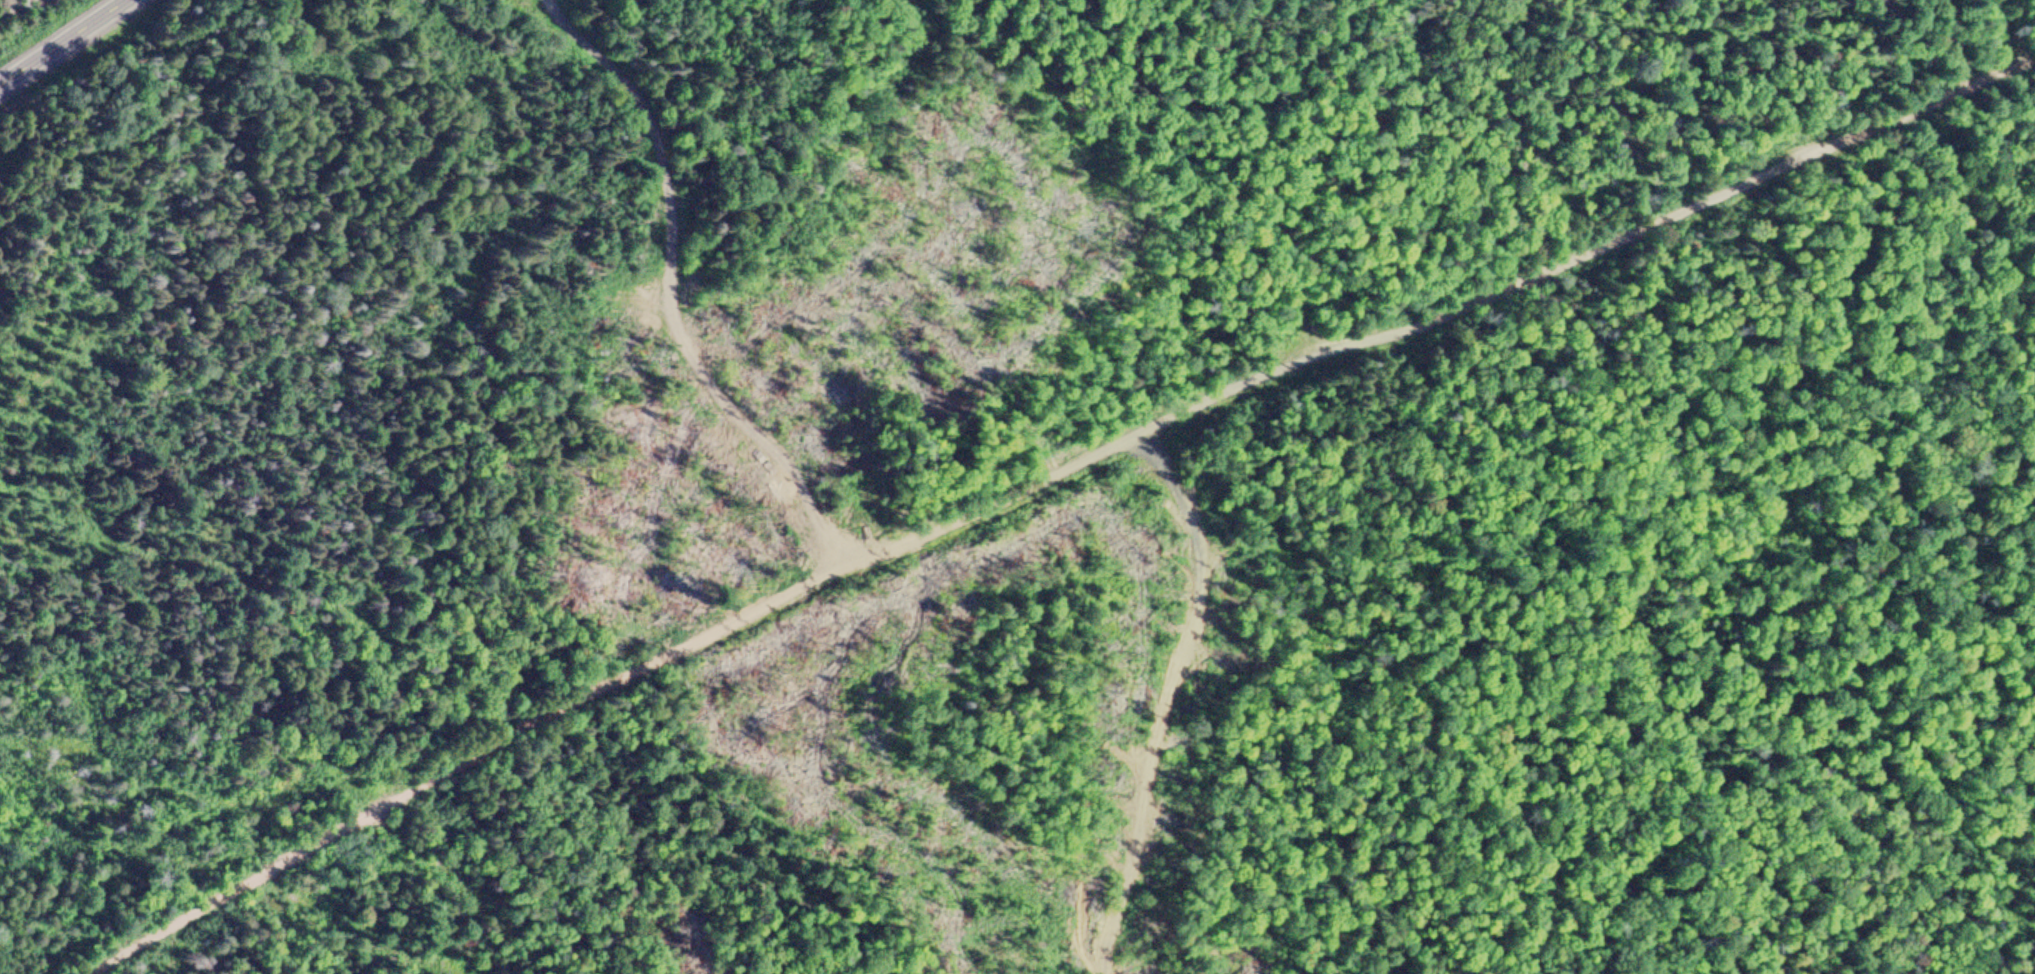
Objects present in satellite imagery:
river: (7, 3)
road: (58, 41)
road: (683, 289)
road: (1033, 494)

